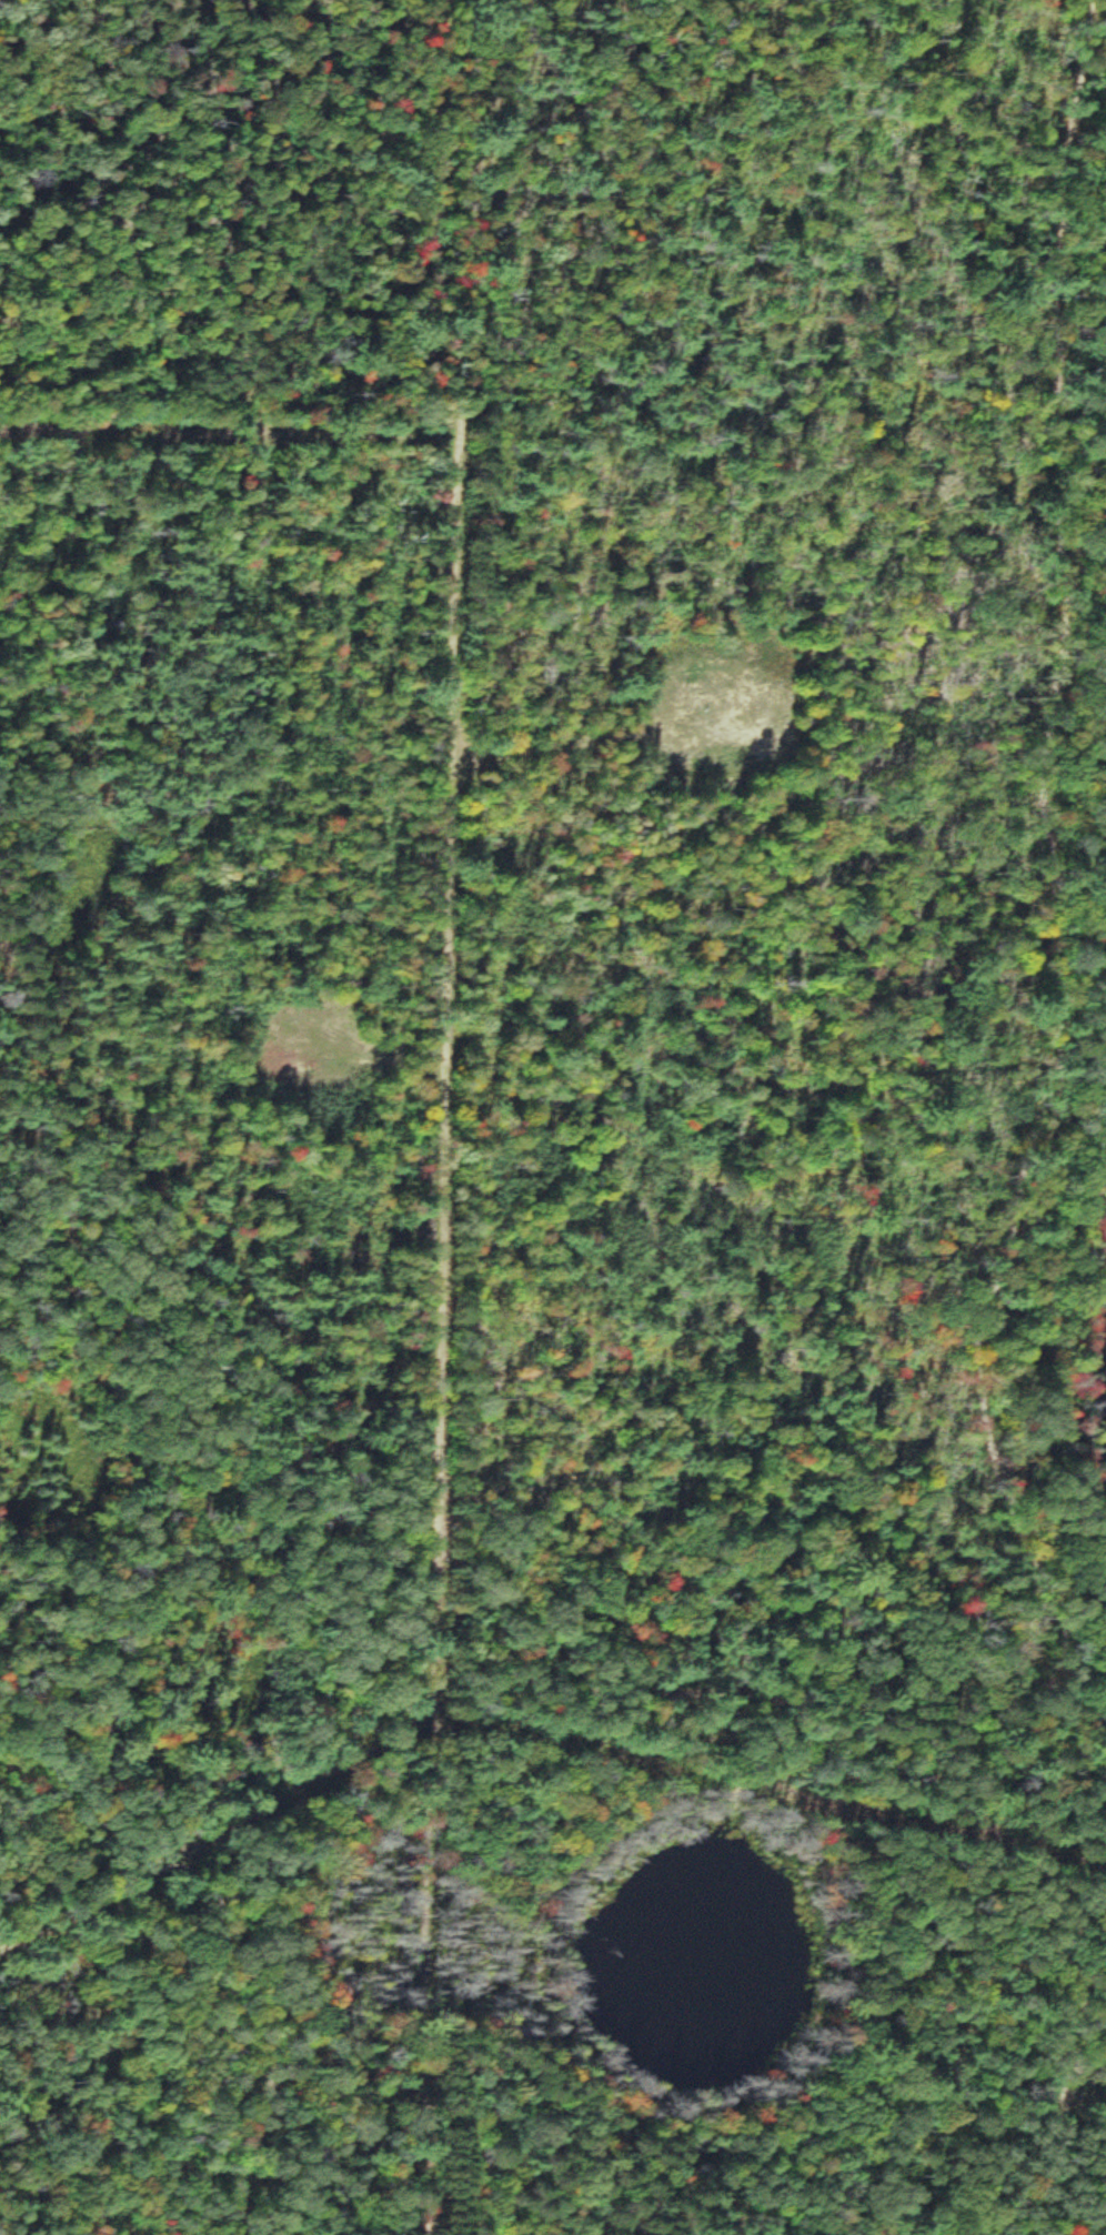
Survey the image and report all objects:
road: (341, 203)
petroleum well: (691, 664)
road: (1008, 932)
road: (428, 1108)
road: (239, 1368)
road: (787, 1729)
road: (102, 1851)
road: (181, 1956)
road: (1085, 2074)

